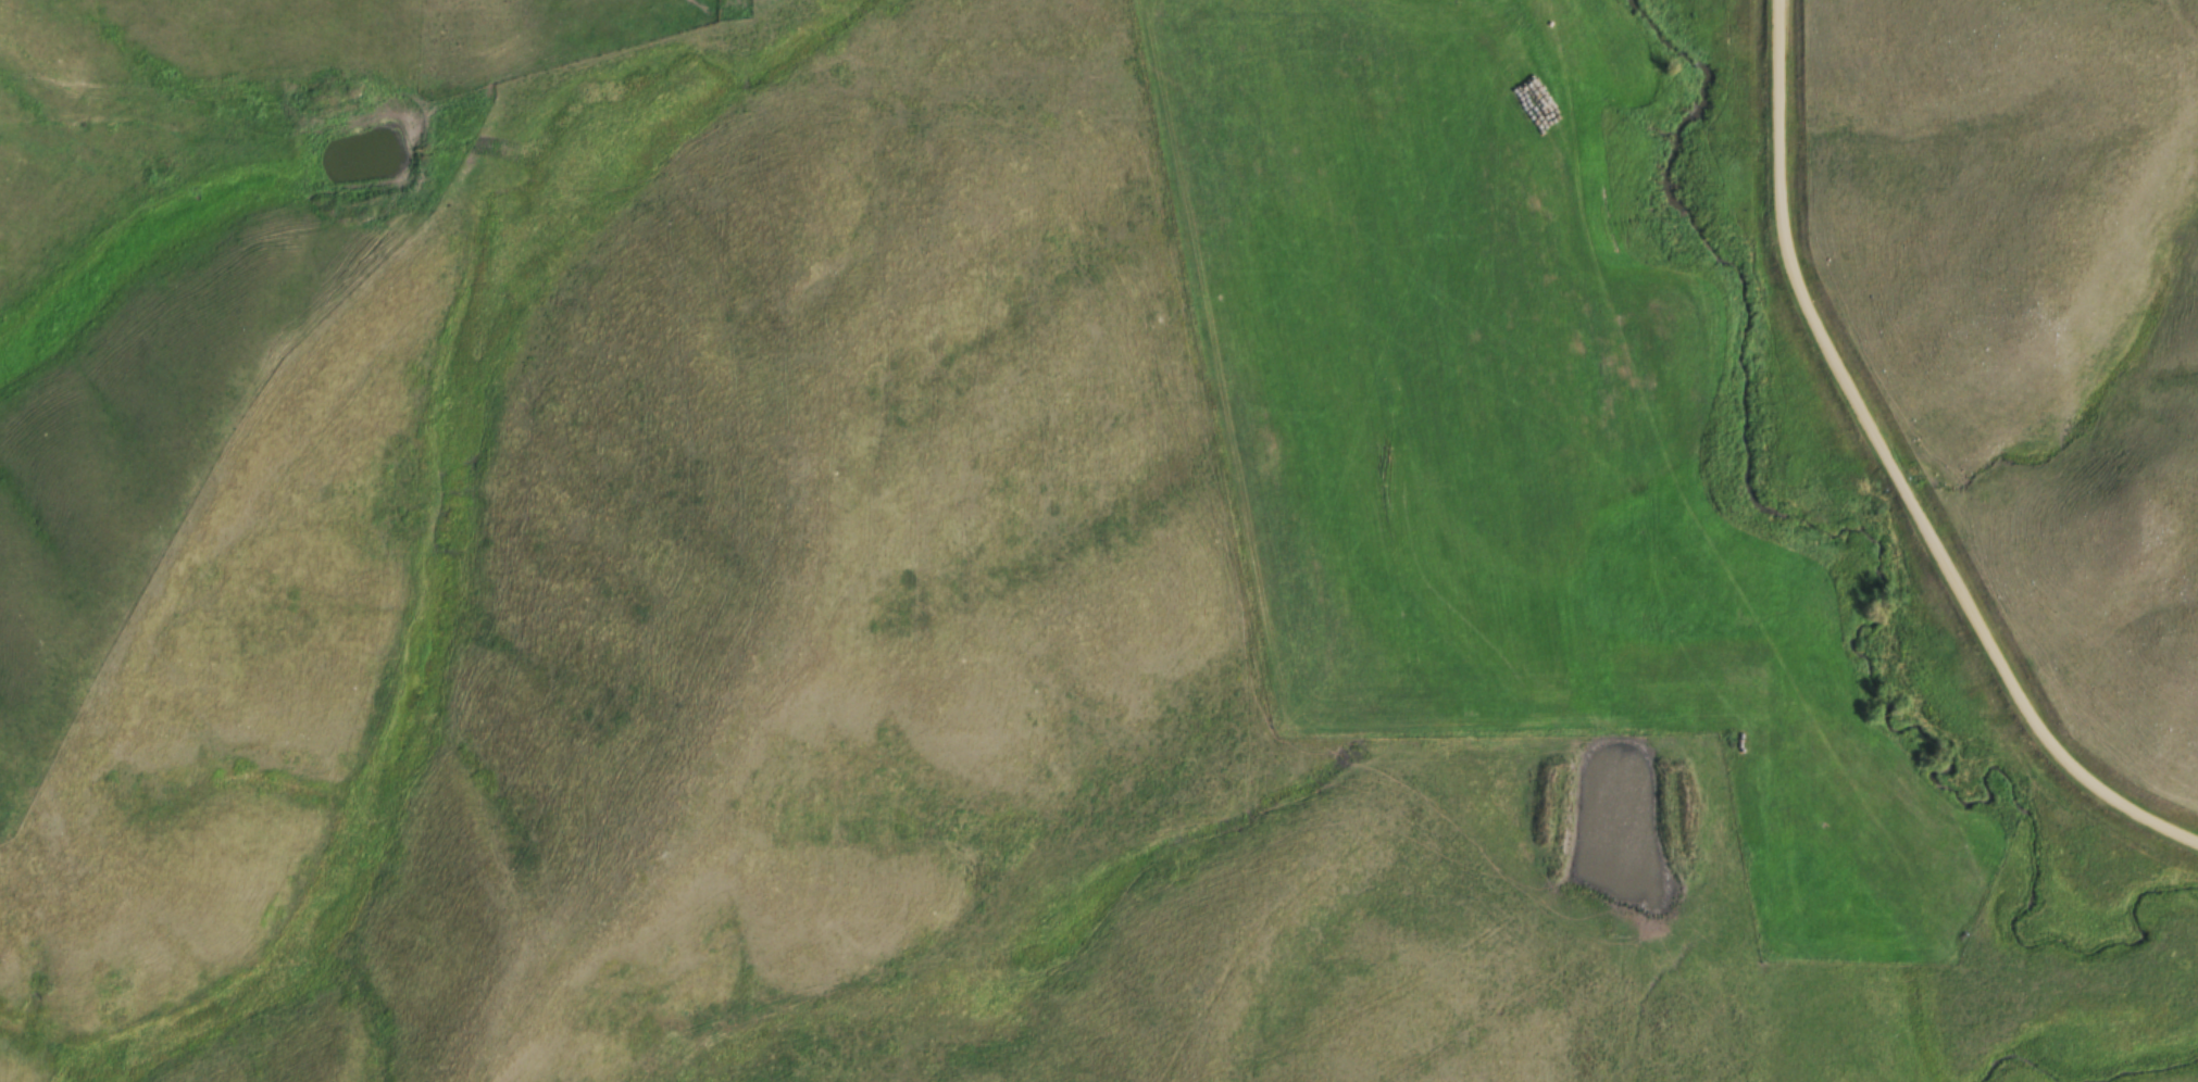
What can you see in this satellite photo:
road: (1897, 469)

